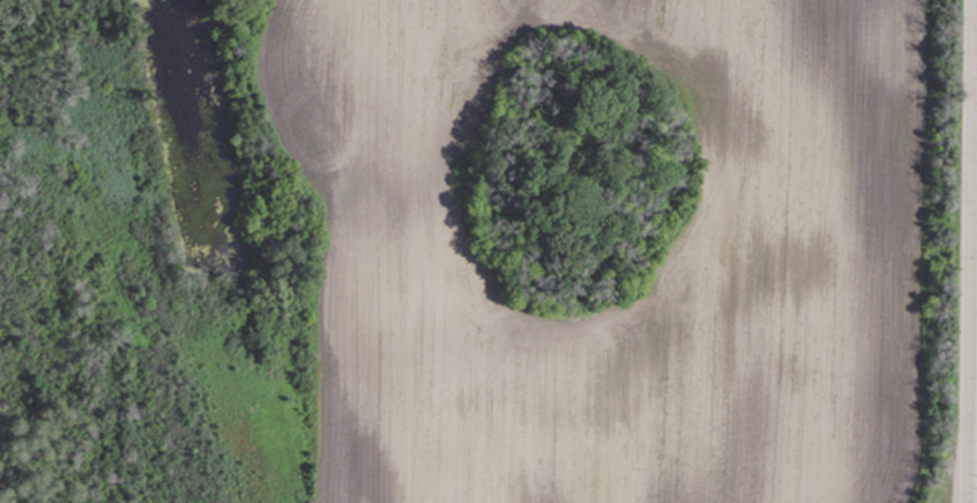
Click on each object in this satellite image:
road: (966, 251)

